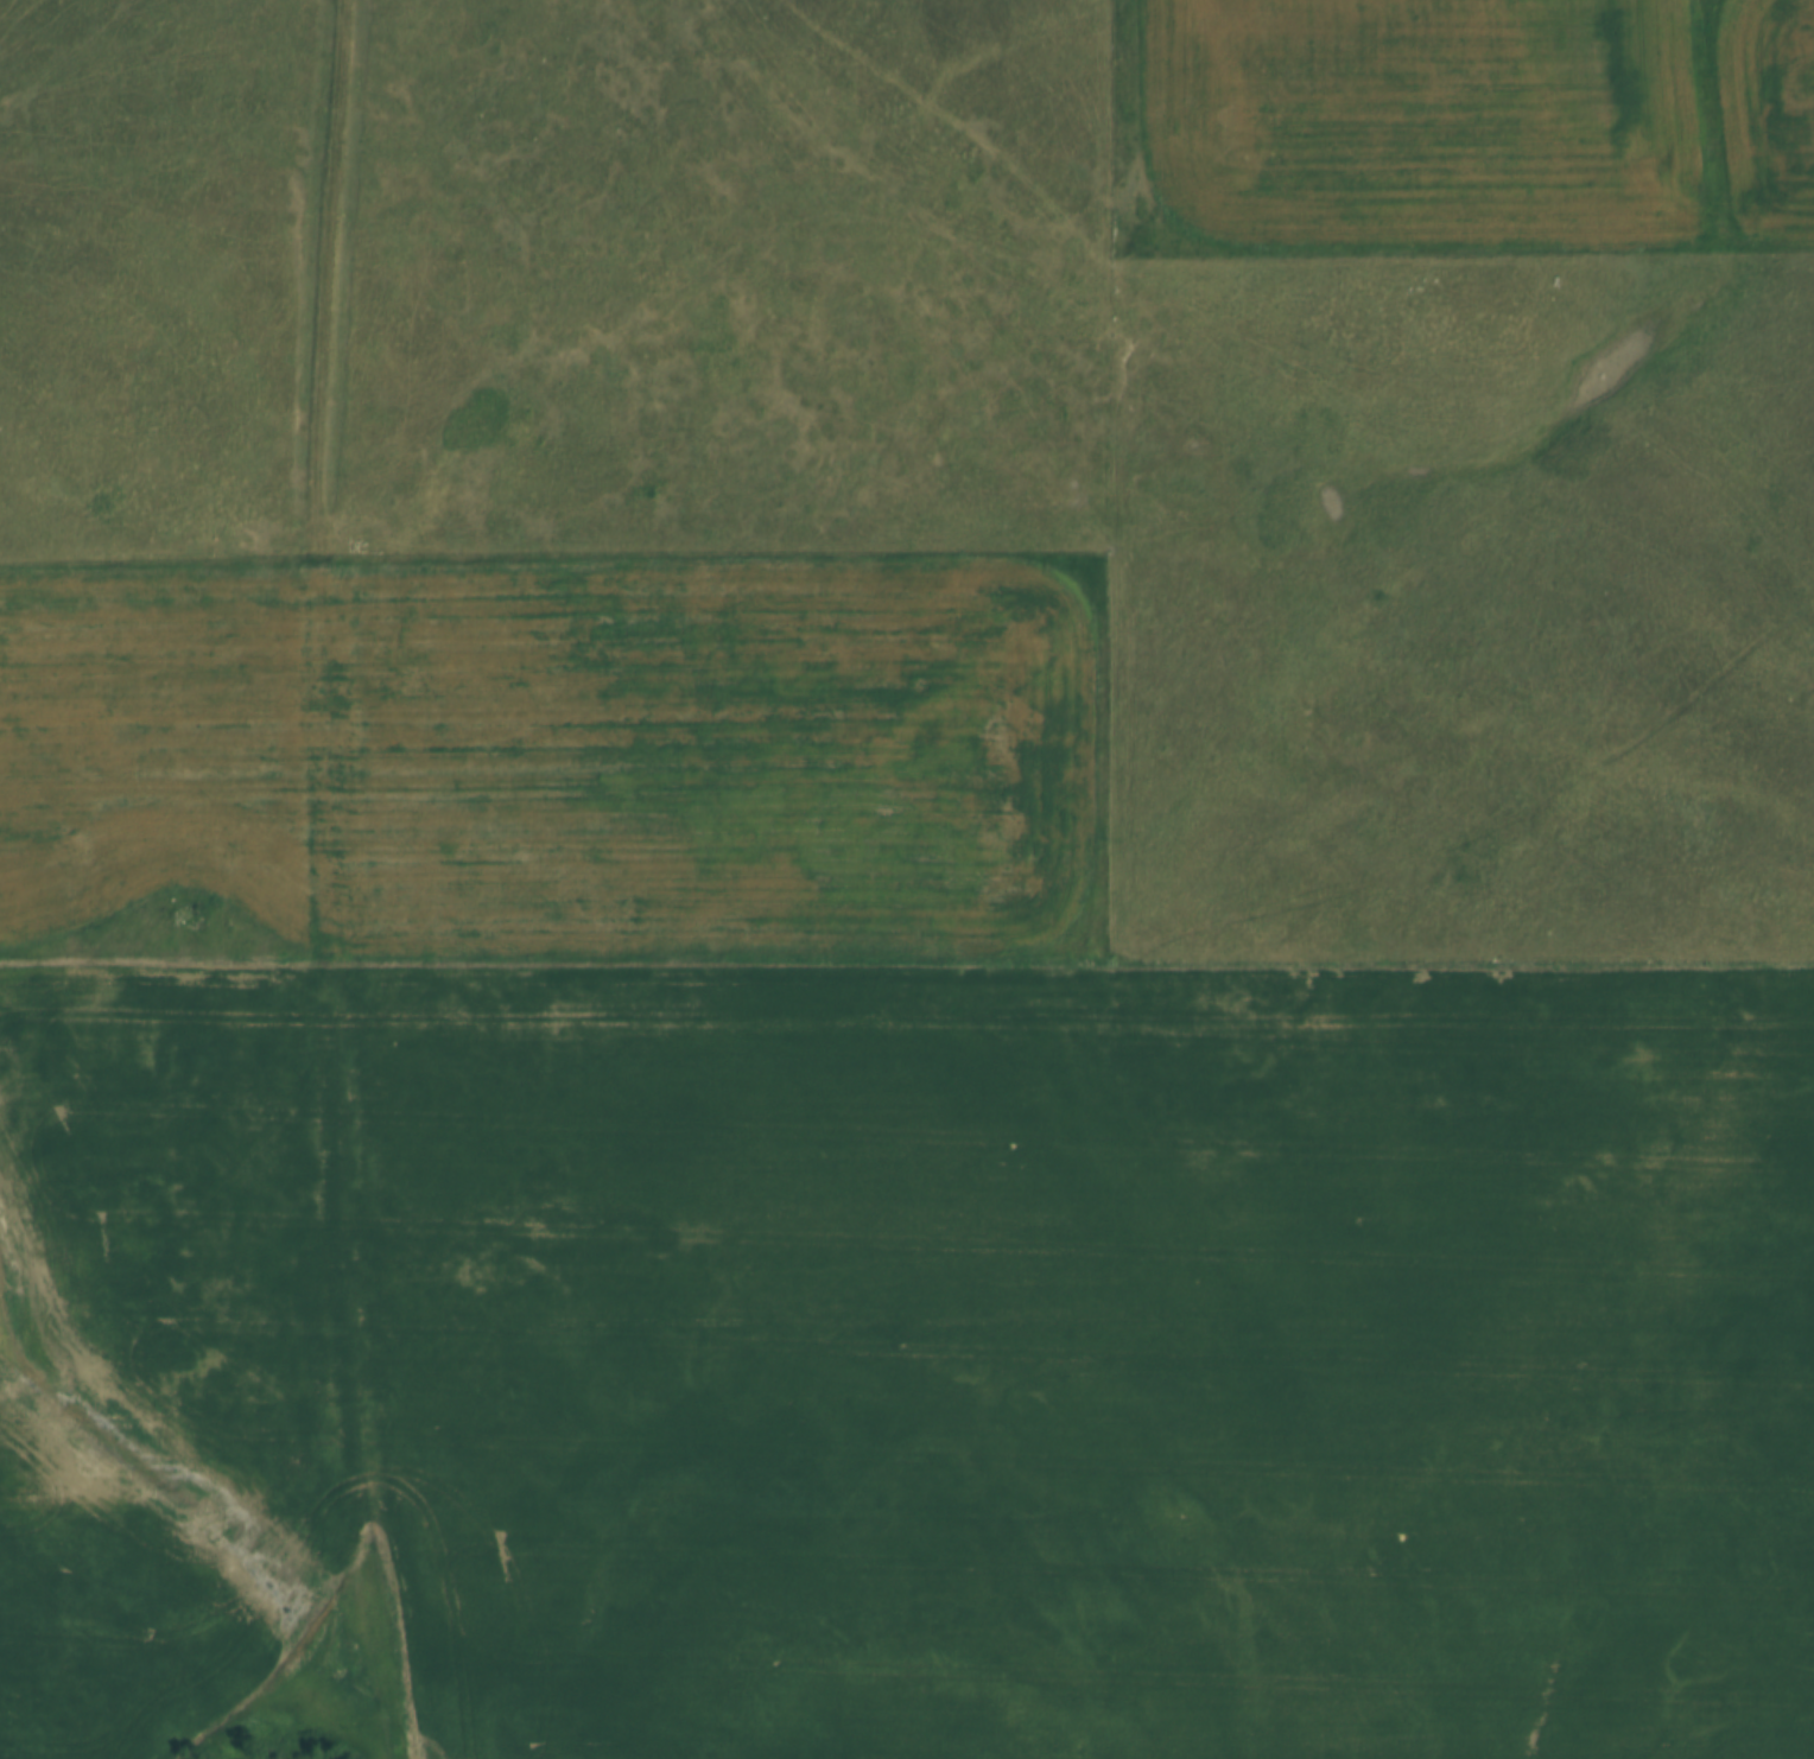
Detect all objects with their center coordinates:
road: (337, 896)
road: (172, 974)

